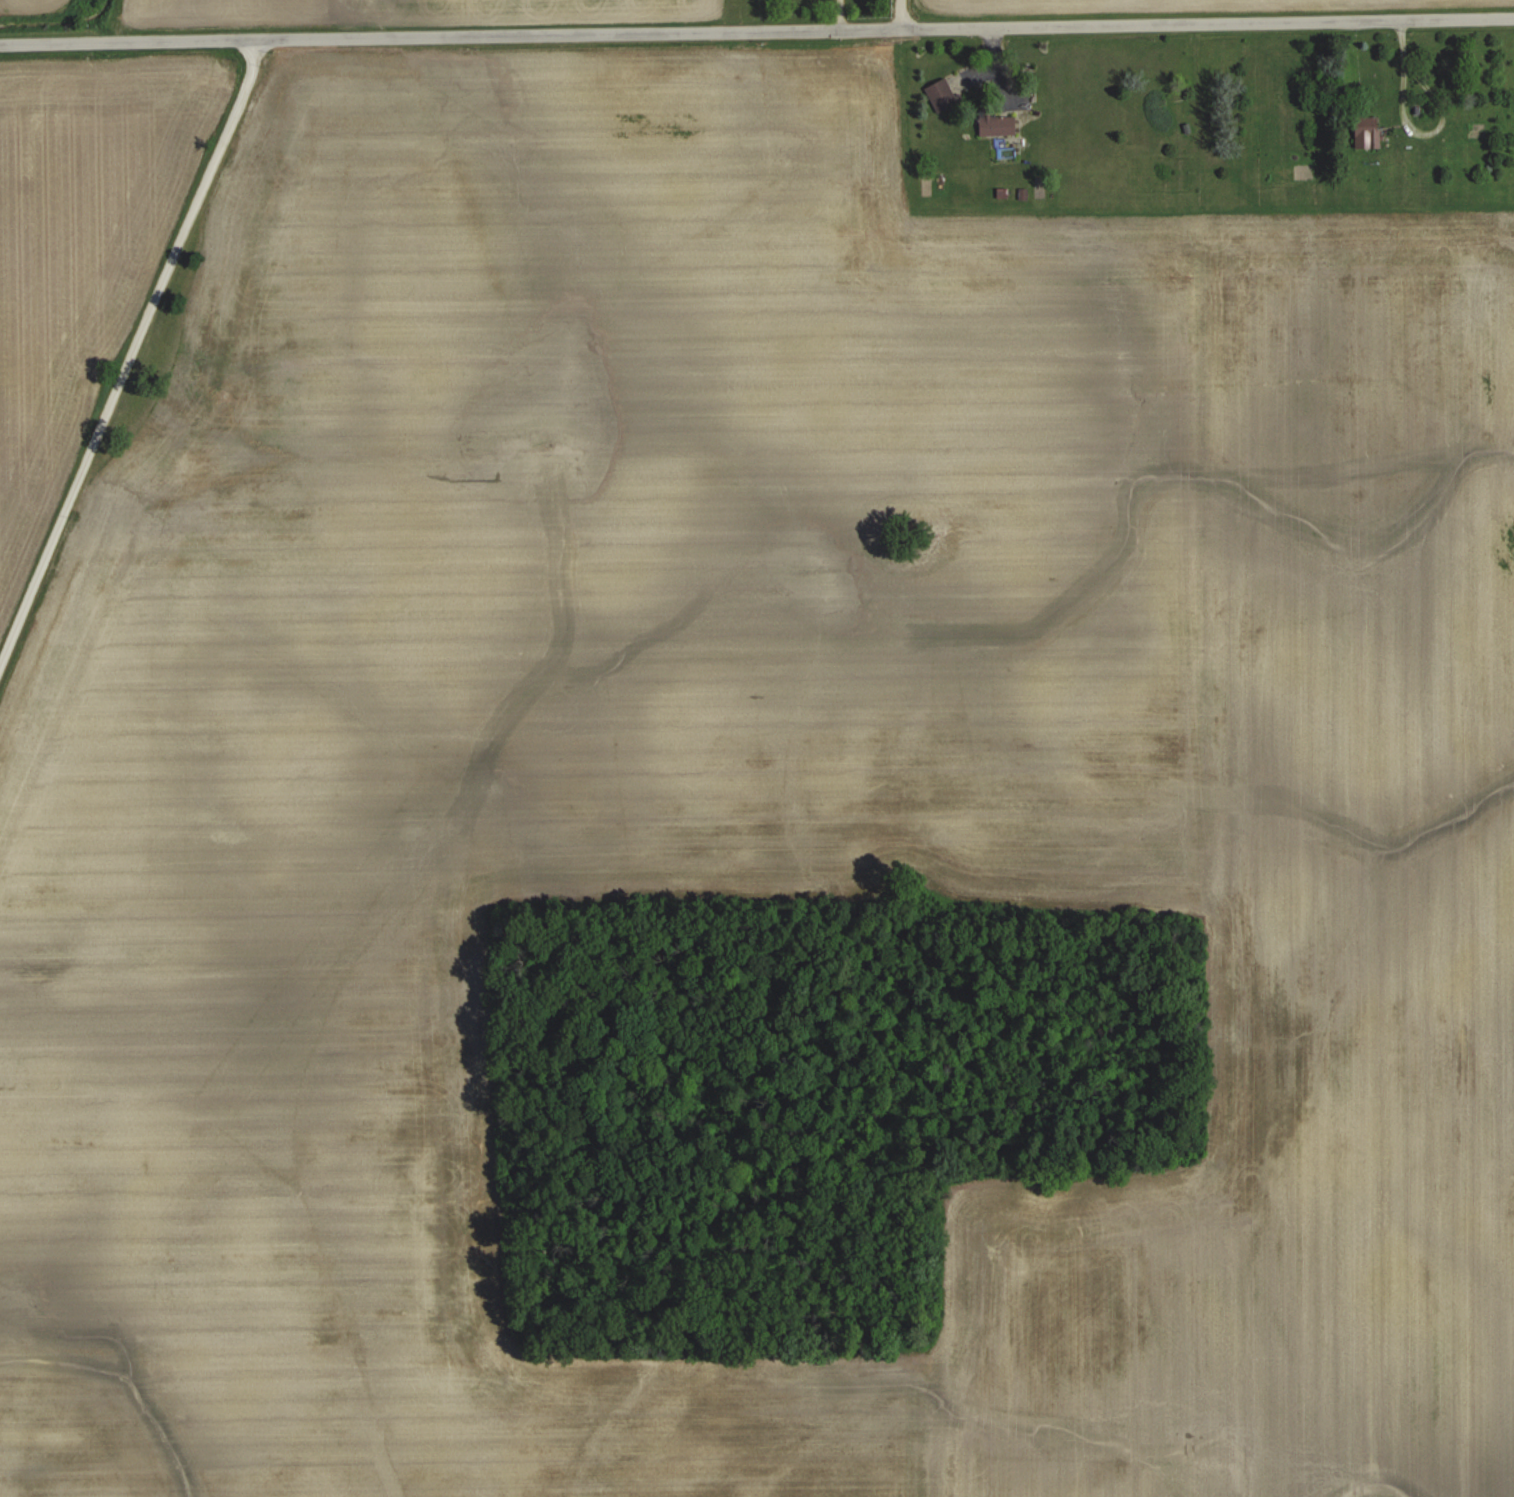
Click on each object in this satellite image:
road: (902, 12)
road: (757, 27)
building: (950, 89)
building: (995, 122)
building: (1366, 131)
road: (131, 354)

